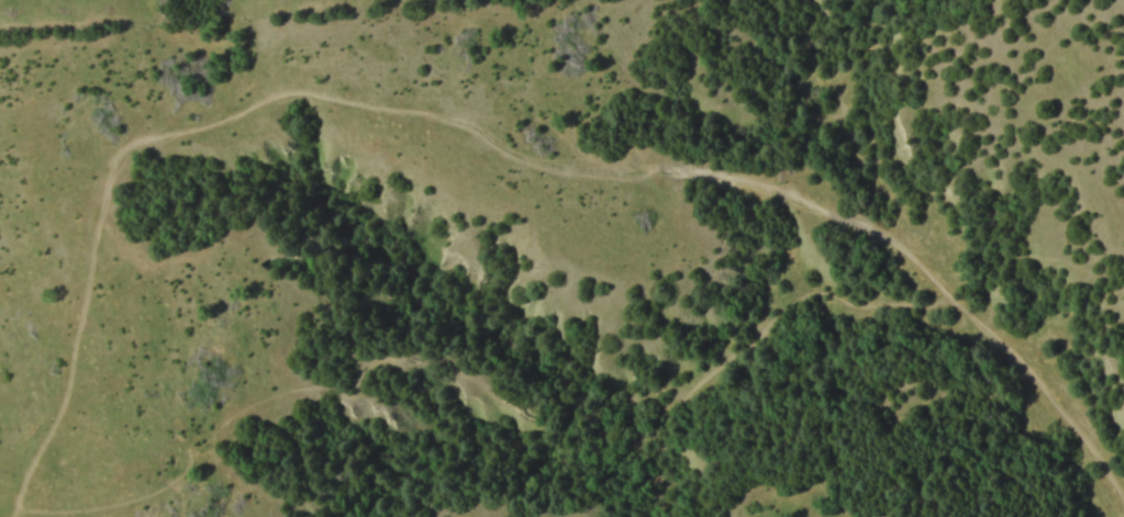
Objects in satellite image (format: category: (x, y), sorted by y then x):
road: (291, 93)
road: (863, 226)
crop: (567, 261)
road: (746, 339)
road: (1015, 360)
road: (353, 367)

